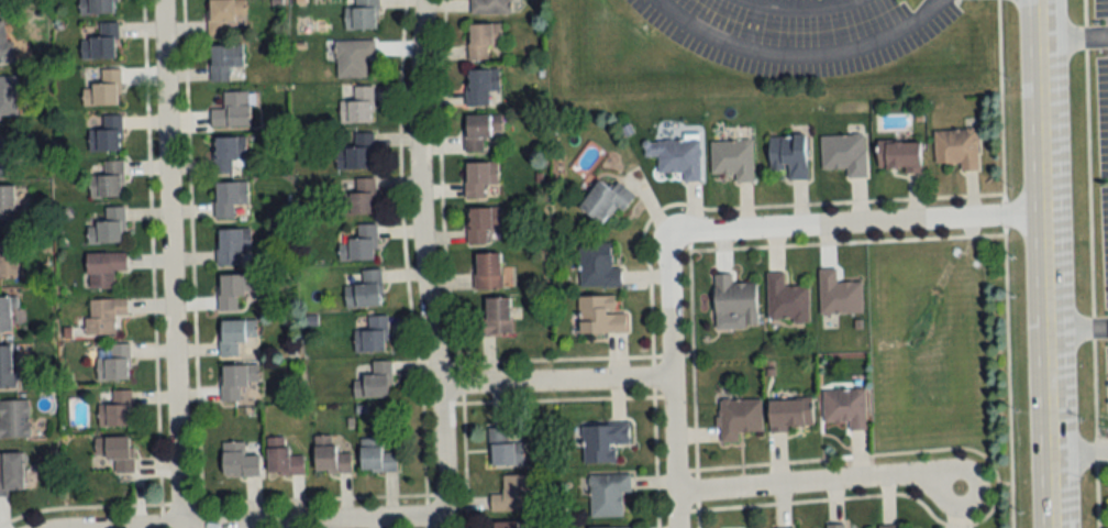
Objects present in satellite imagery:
road: (800, 3)
building: (97, 7)
building: (489, 7)
building: (224, 15)
building: (362, 15)
road: (750, 23)
road: (1072, 38)
building: (481, 40)
building: (100, 44)
building: (5, 46)
road: (801, 56)
building: (352, 57)
building: (222, 63)
building: (106, 87)
building: (481, 87)
building: (8, 99)
building: (357, 107)
building: (232, 110)
building: (477, 134)
building: (107, 135)
building: (956, 148)
building: (355, 151)
building: (844, 154)
building: (228, 155)
building: (789, 155)
building: (676, 156)
building: (899, 157)
building: (2, 158)
building: (732, 159)
building: (478, 179)
building: (107, 182)
building: (359, 198)
building: (230, 200)
building: (606, 201)
building: (7, 204)
building: (480, 224)
road: (855, 226)
building: (108, 228)
building: (359, 245)
building: (232, 246)
building: (9, 258)
road: (166, 263)
road: (420, 264)
road: (1004, 264)
road: (1043, 264)
building: (597, 266)
building: (103, 268)
building: (487, 271)
building: (233, 290)
building: (365, 290)
building: (839, 295)
building: (734, 298)
building: (786, 299)
building: (5, 312)
building: (103, 315)
building: (599, 316)
building: (495, 318)
road: (1077, 329)
building: (235, 334)
building: (373, 334)
building: (112, 361)
building: (5, 364)
building: (239, 381)
building: (375, 381)
road: (552, 383)
road: (668, 384)
building: (845, 405)
building: (115, 409)
building: (791, 411)
building: (739, 416)
building: (14, 417)
building: (602, 440)
building: (505, 447)
building: (117, 452)
building: (330, 454)
road: (1078, 454)
building: (376, 455)
building: (282, 457)
building: (239, 460)
building: (11, 472)
road: (815, 482)
building: (514, 493)
building: (607, 493)
road: (278, 522)
building: (511, 524)
building: (835, 525)
building: (888, 526)
building: (611, 527)

